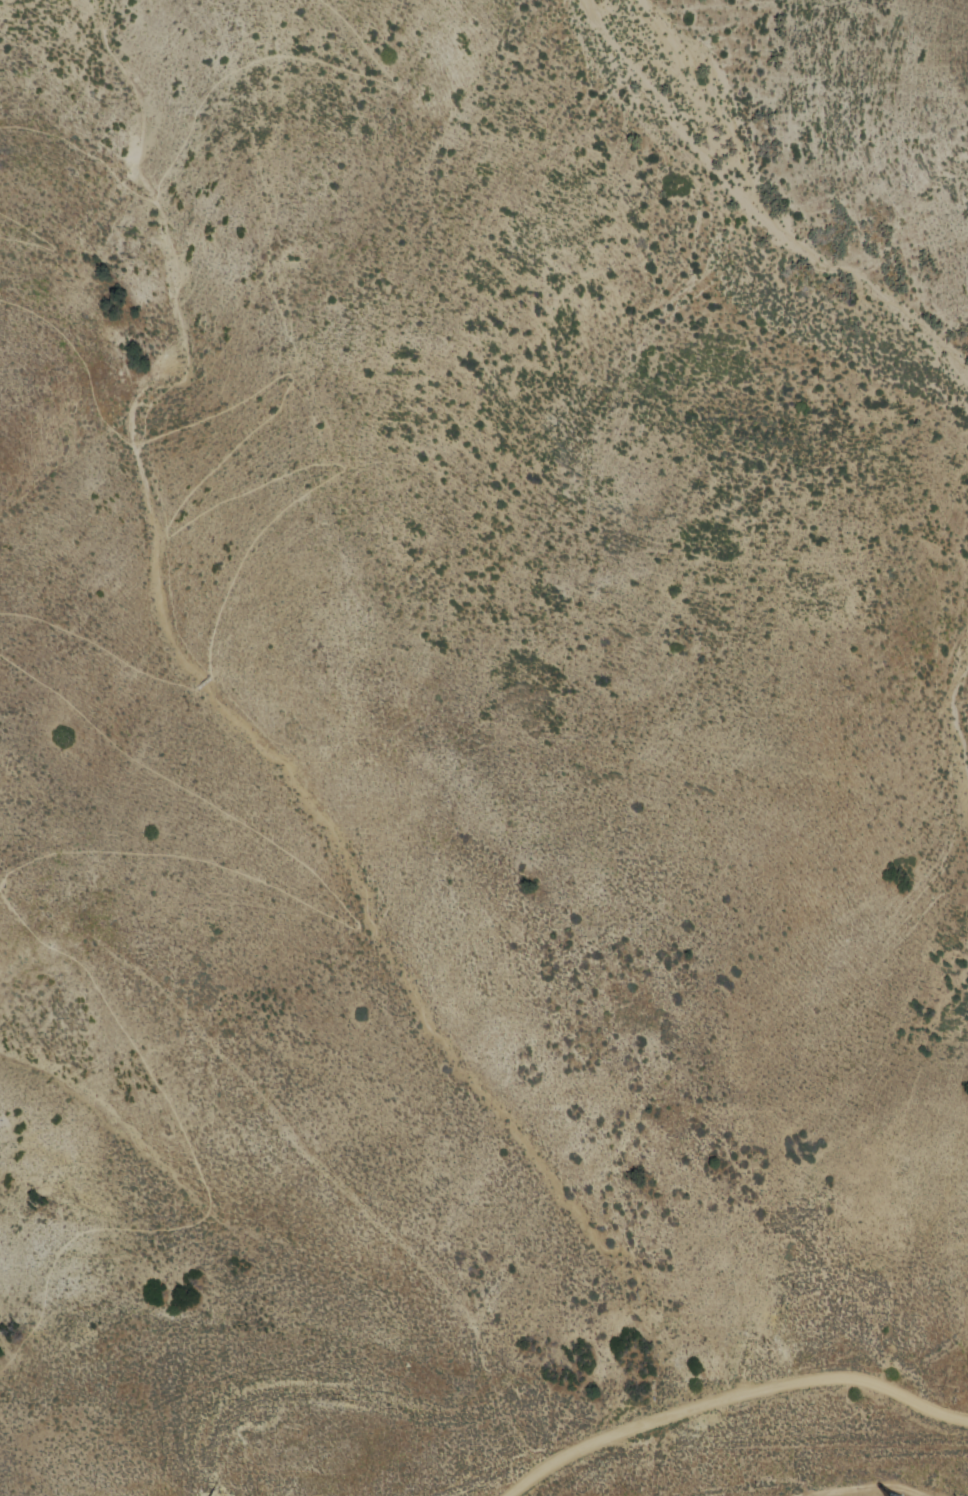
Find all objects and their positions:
road: (213, 84)
road: (46, 240)
road: (219, 464)
road: (96, 649)
road: (202, 683)
road: (54, 849)
road: (736, 1397)

